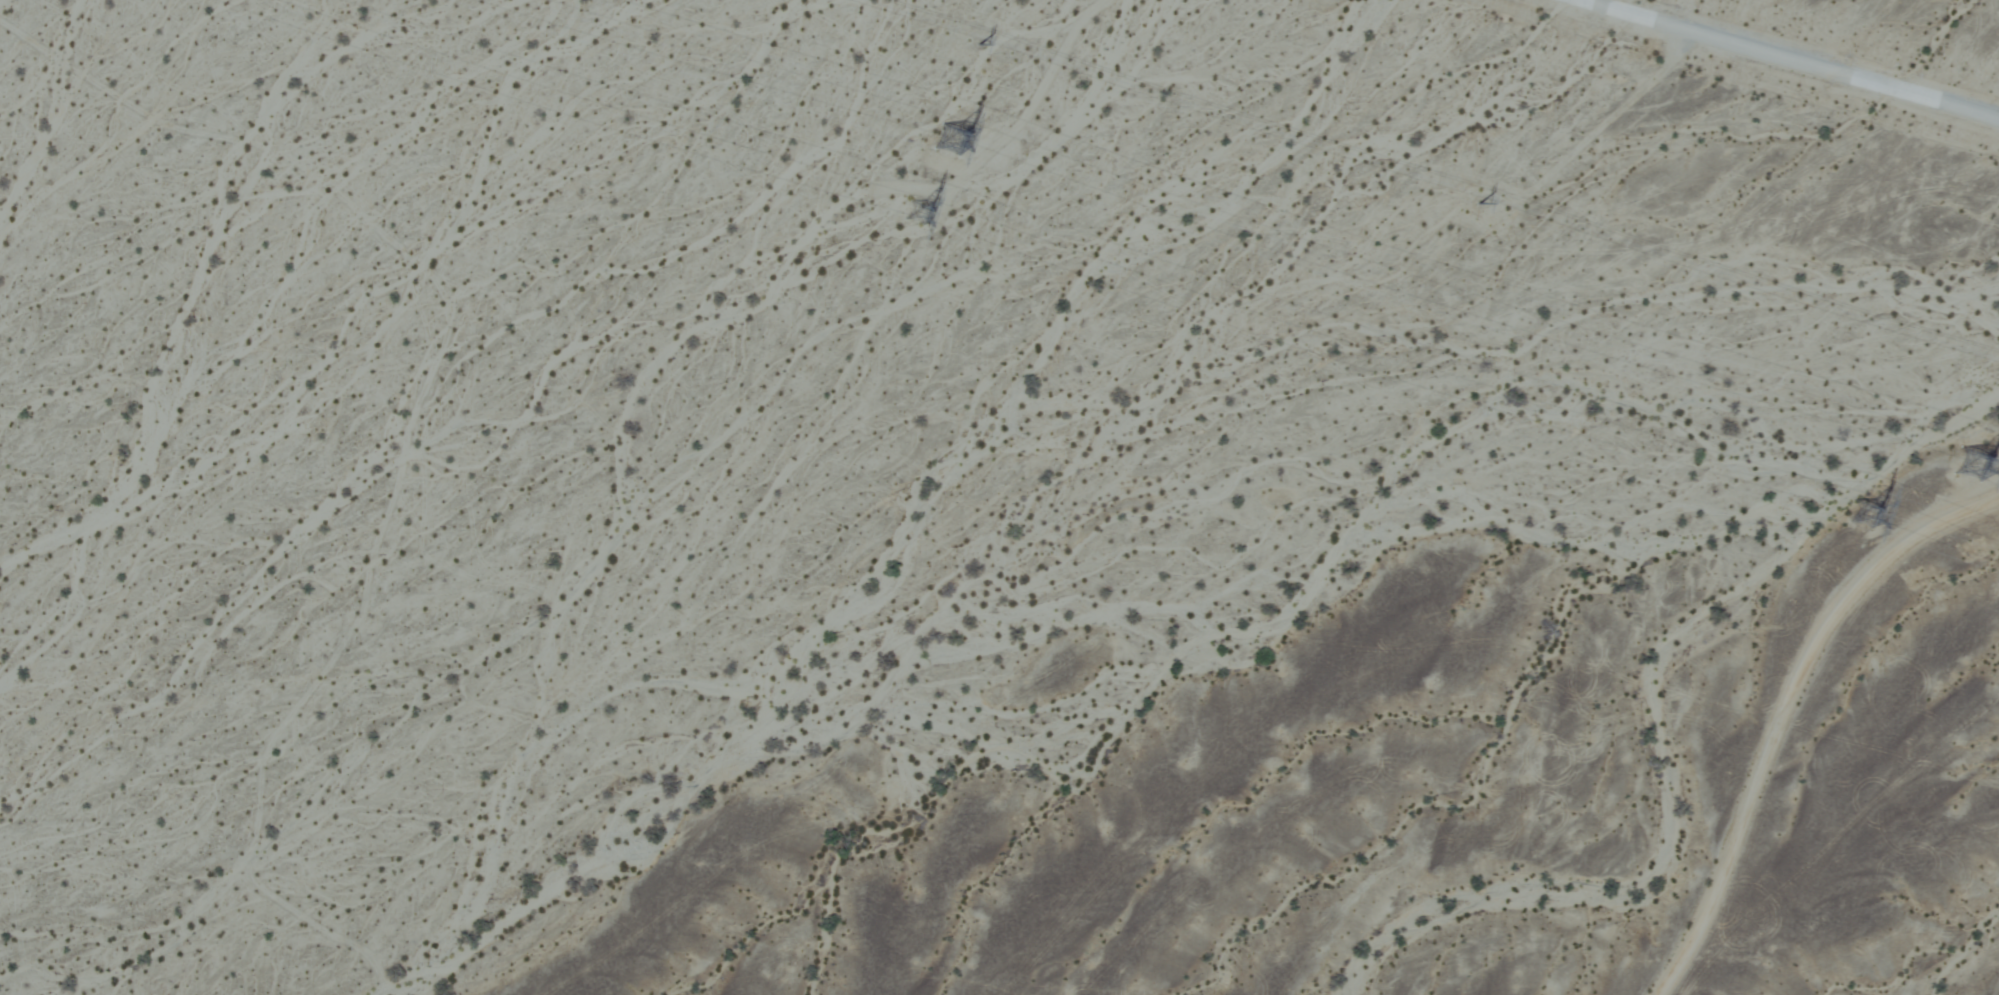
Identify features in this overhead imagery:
road: (1794, 61)
power tower: (946, 133)
power tower: (900, 208)
power tower: (1960, 459)
power tower: (1857, 509)
road: (1782, 700)

